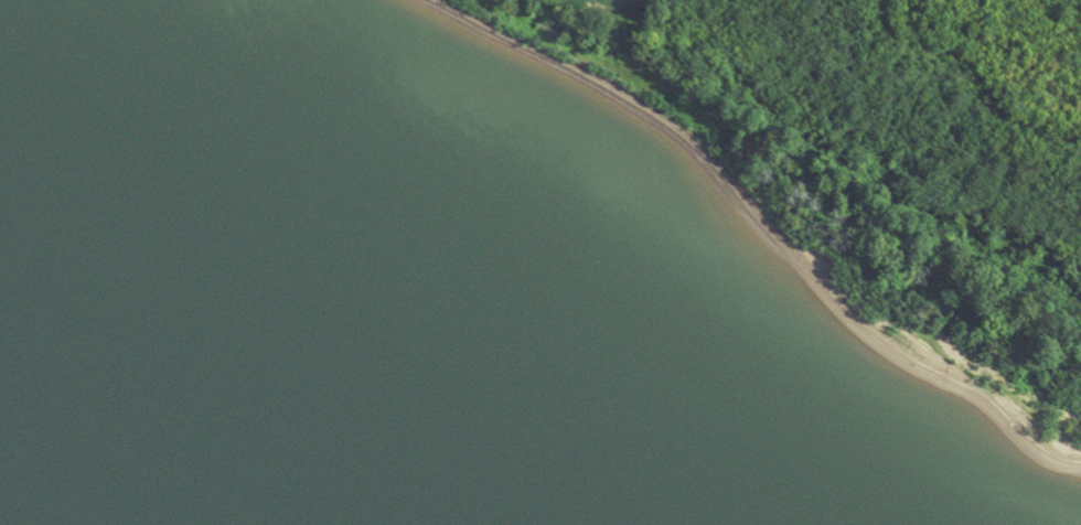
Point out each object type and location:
river: (1, 523)

